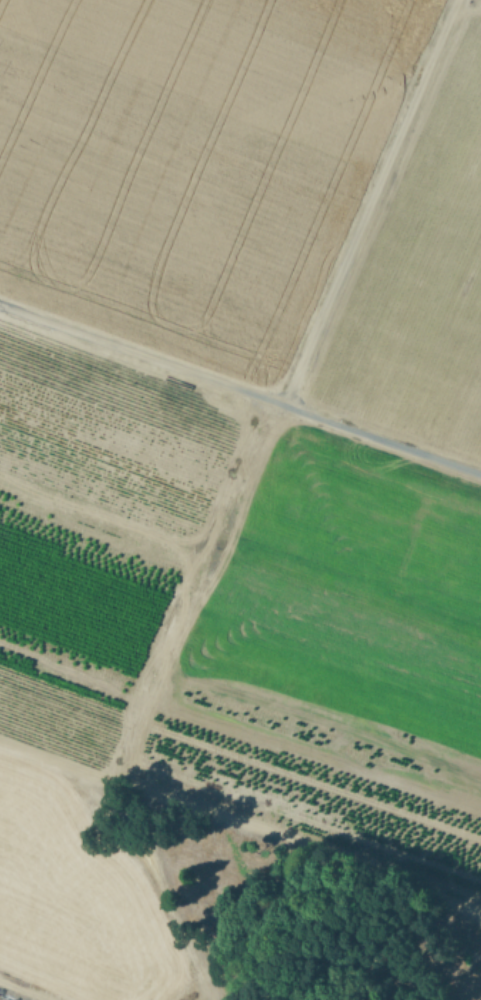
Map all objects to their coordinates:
crop: (240, 500)
road: (16, 993)
building: (0, 999)

